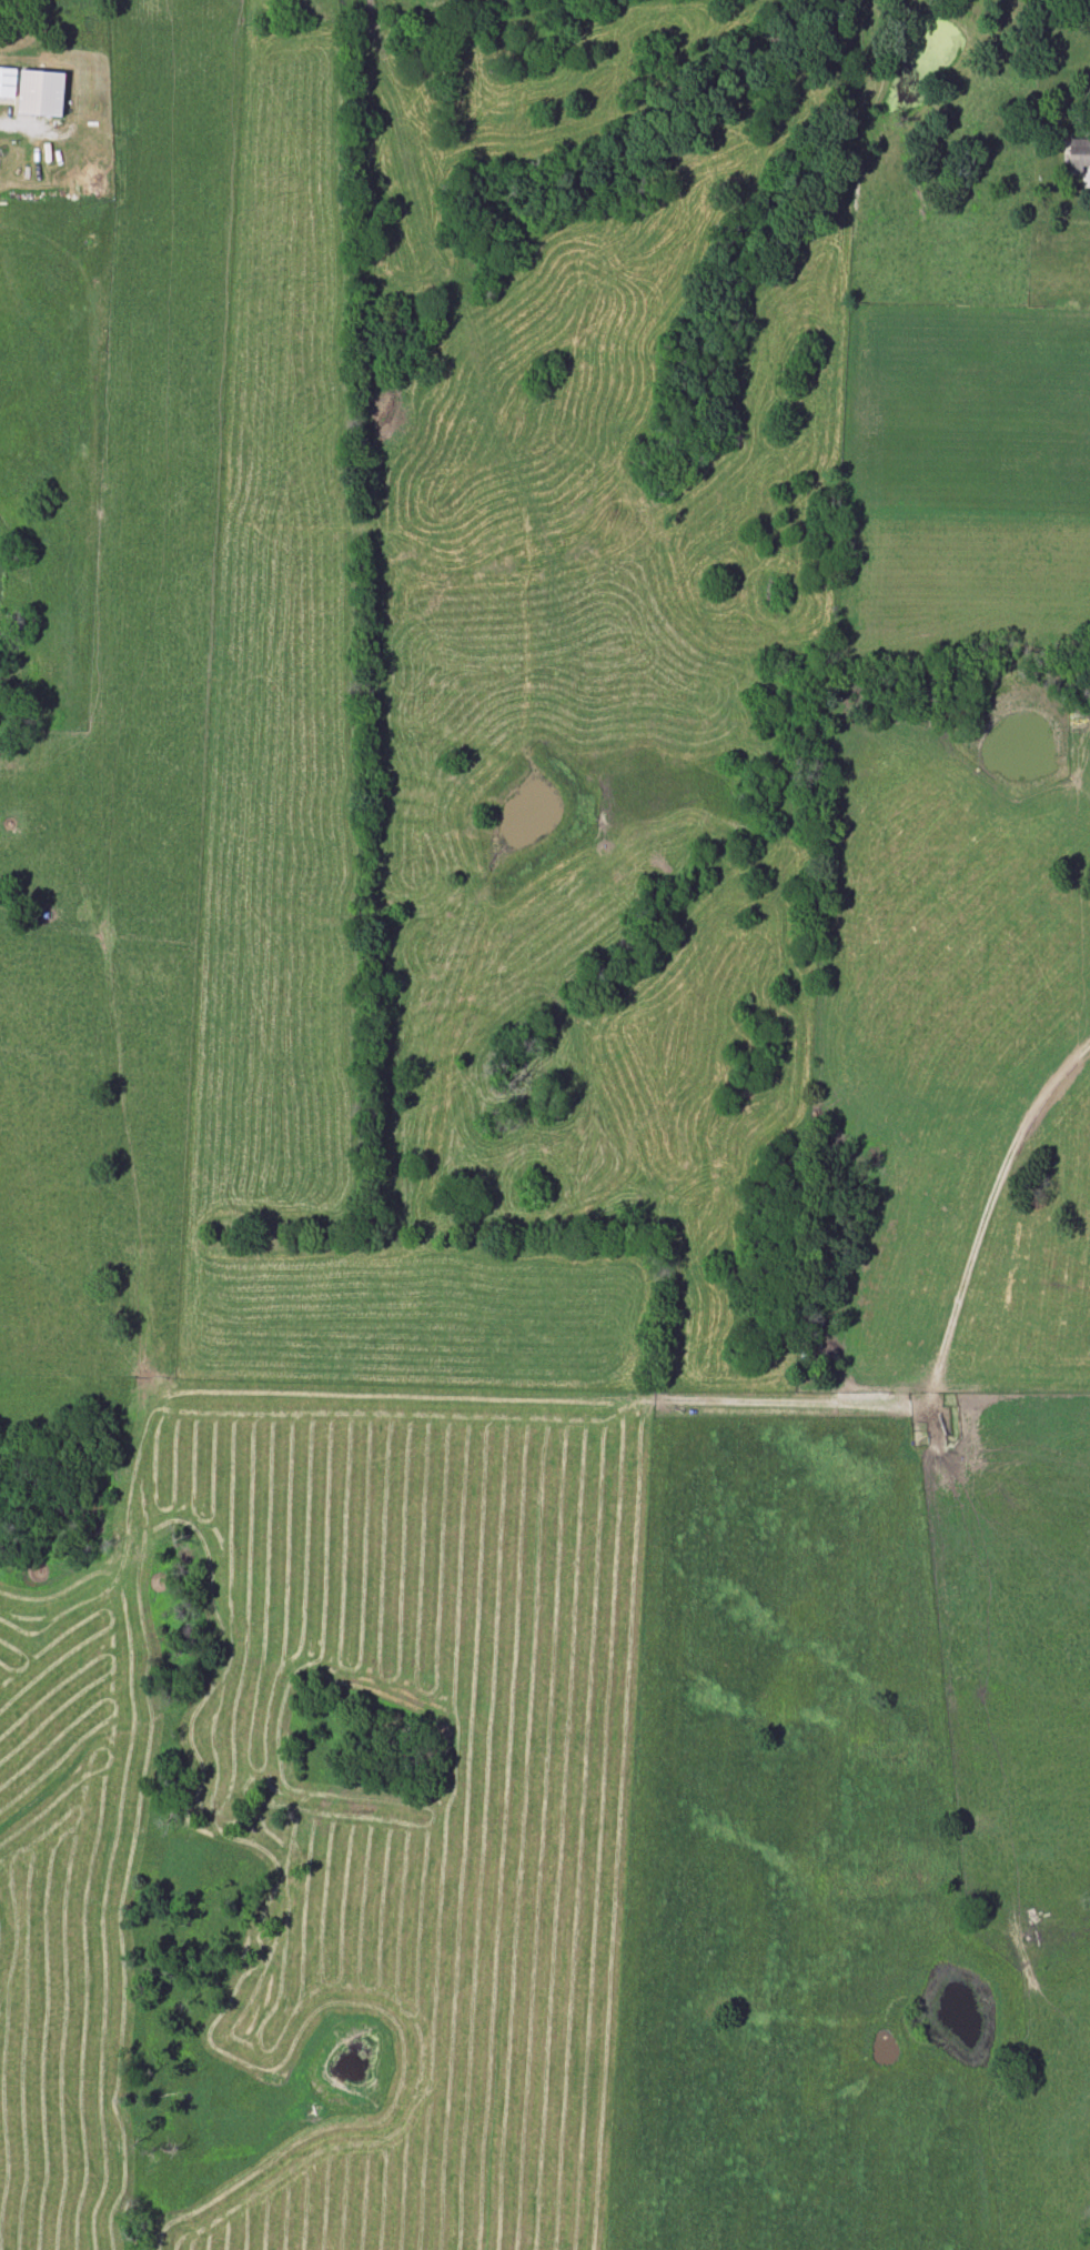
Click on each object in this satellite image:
building: (7, 83)
building: (41, 94)
building: (1078, 157)

